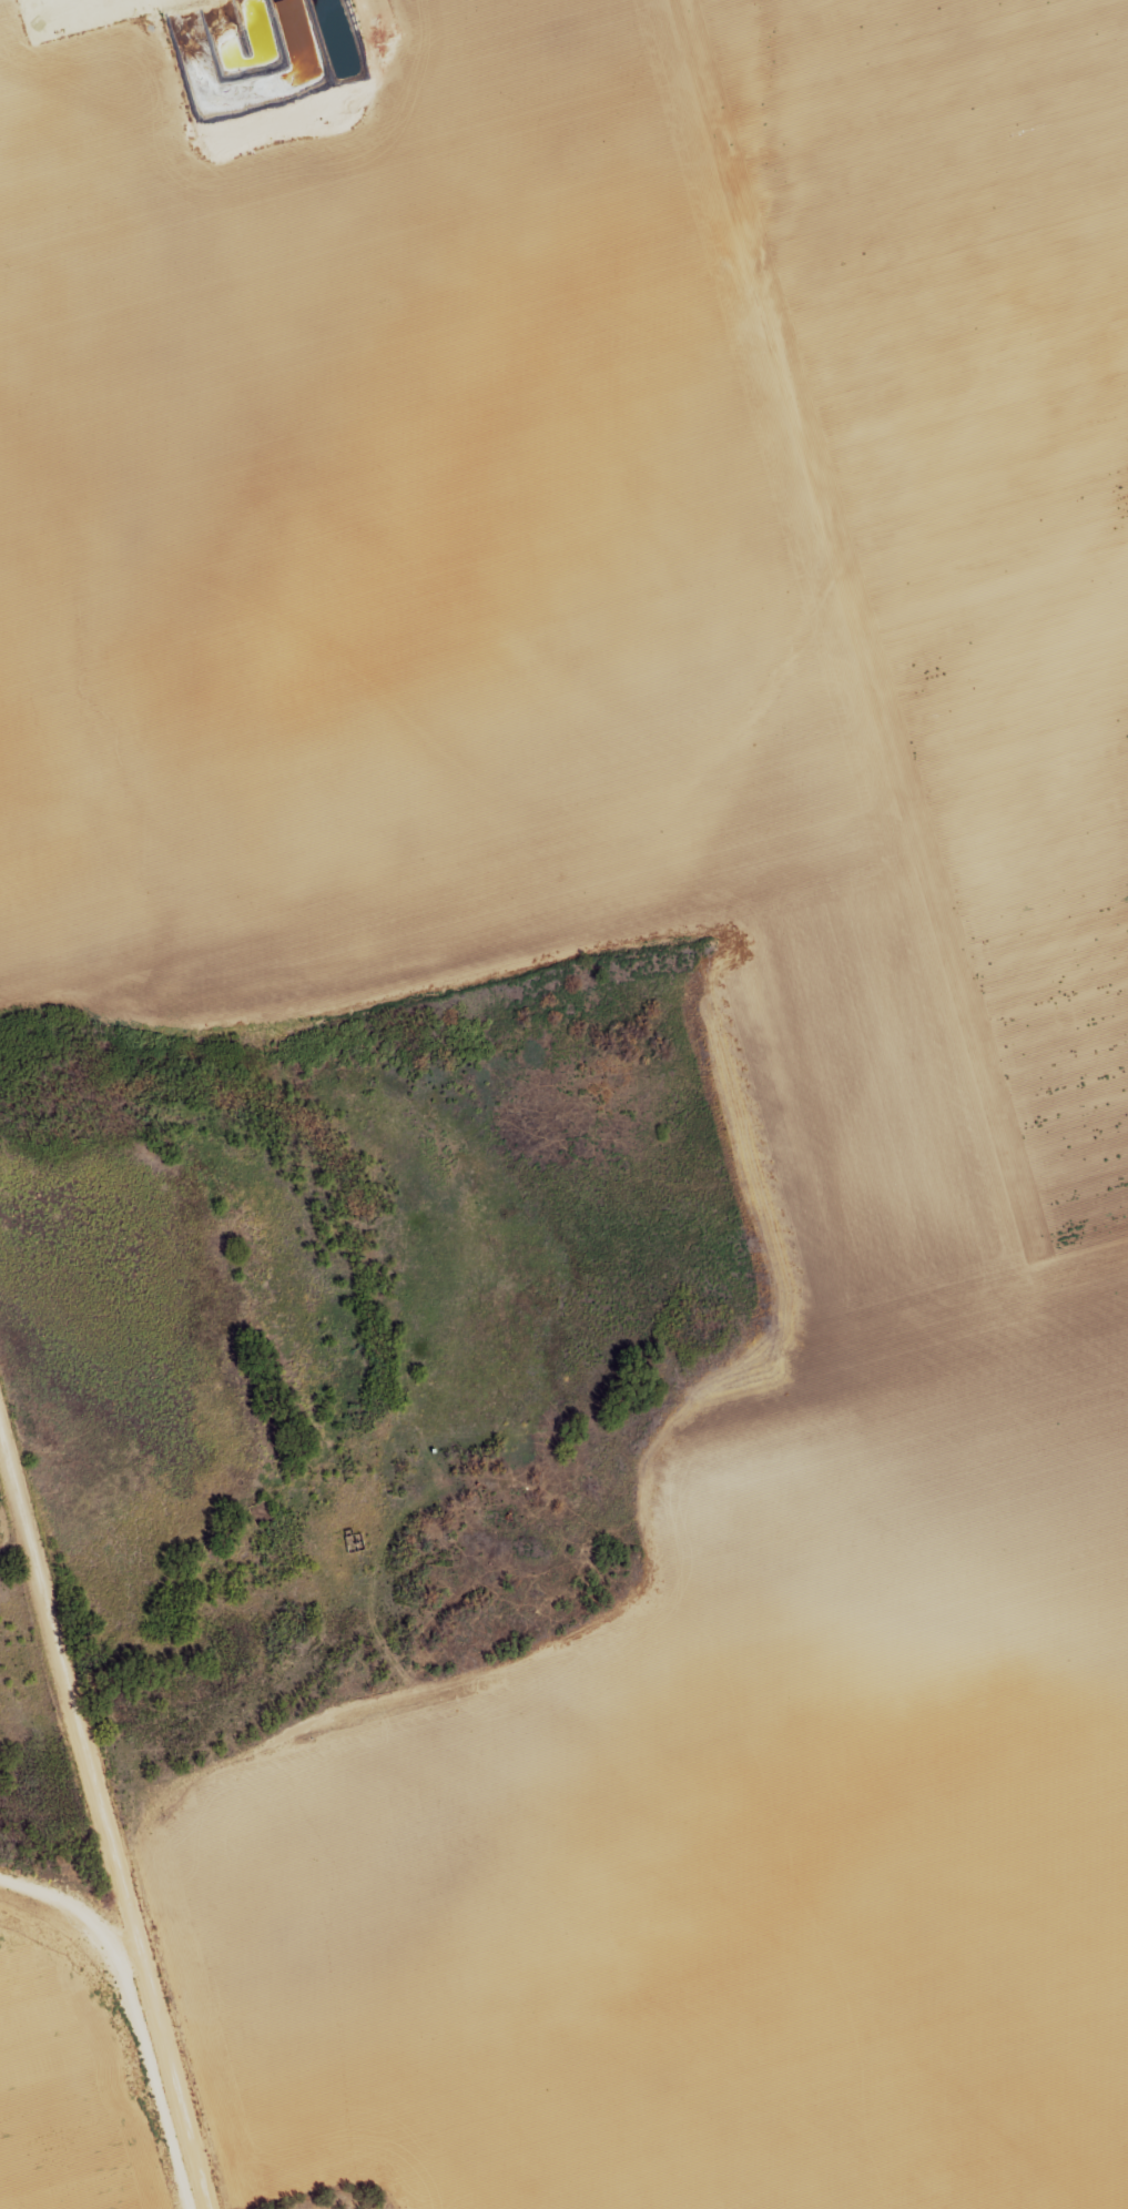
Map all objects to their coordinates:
road: (100, 1852)

